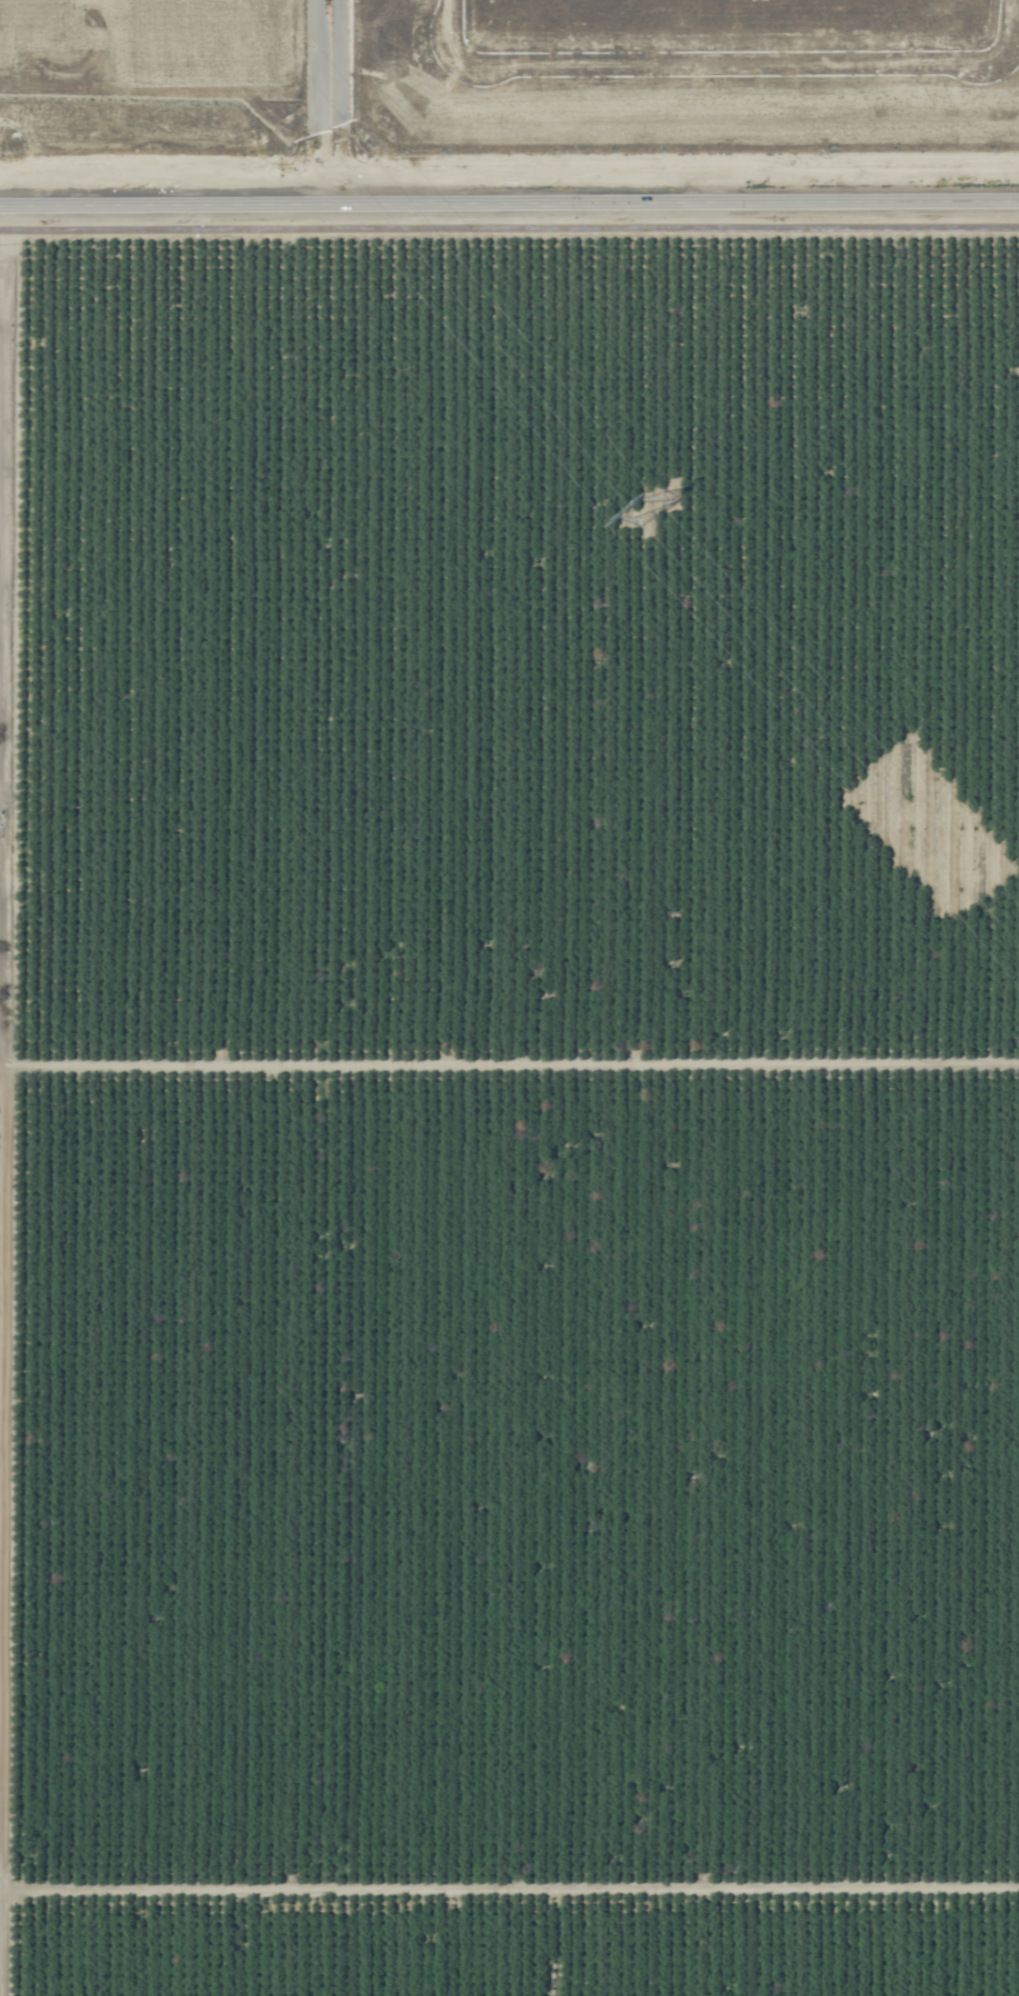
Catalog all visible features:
road: (509, 204)
power tower: (651, 504)

